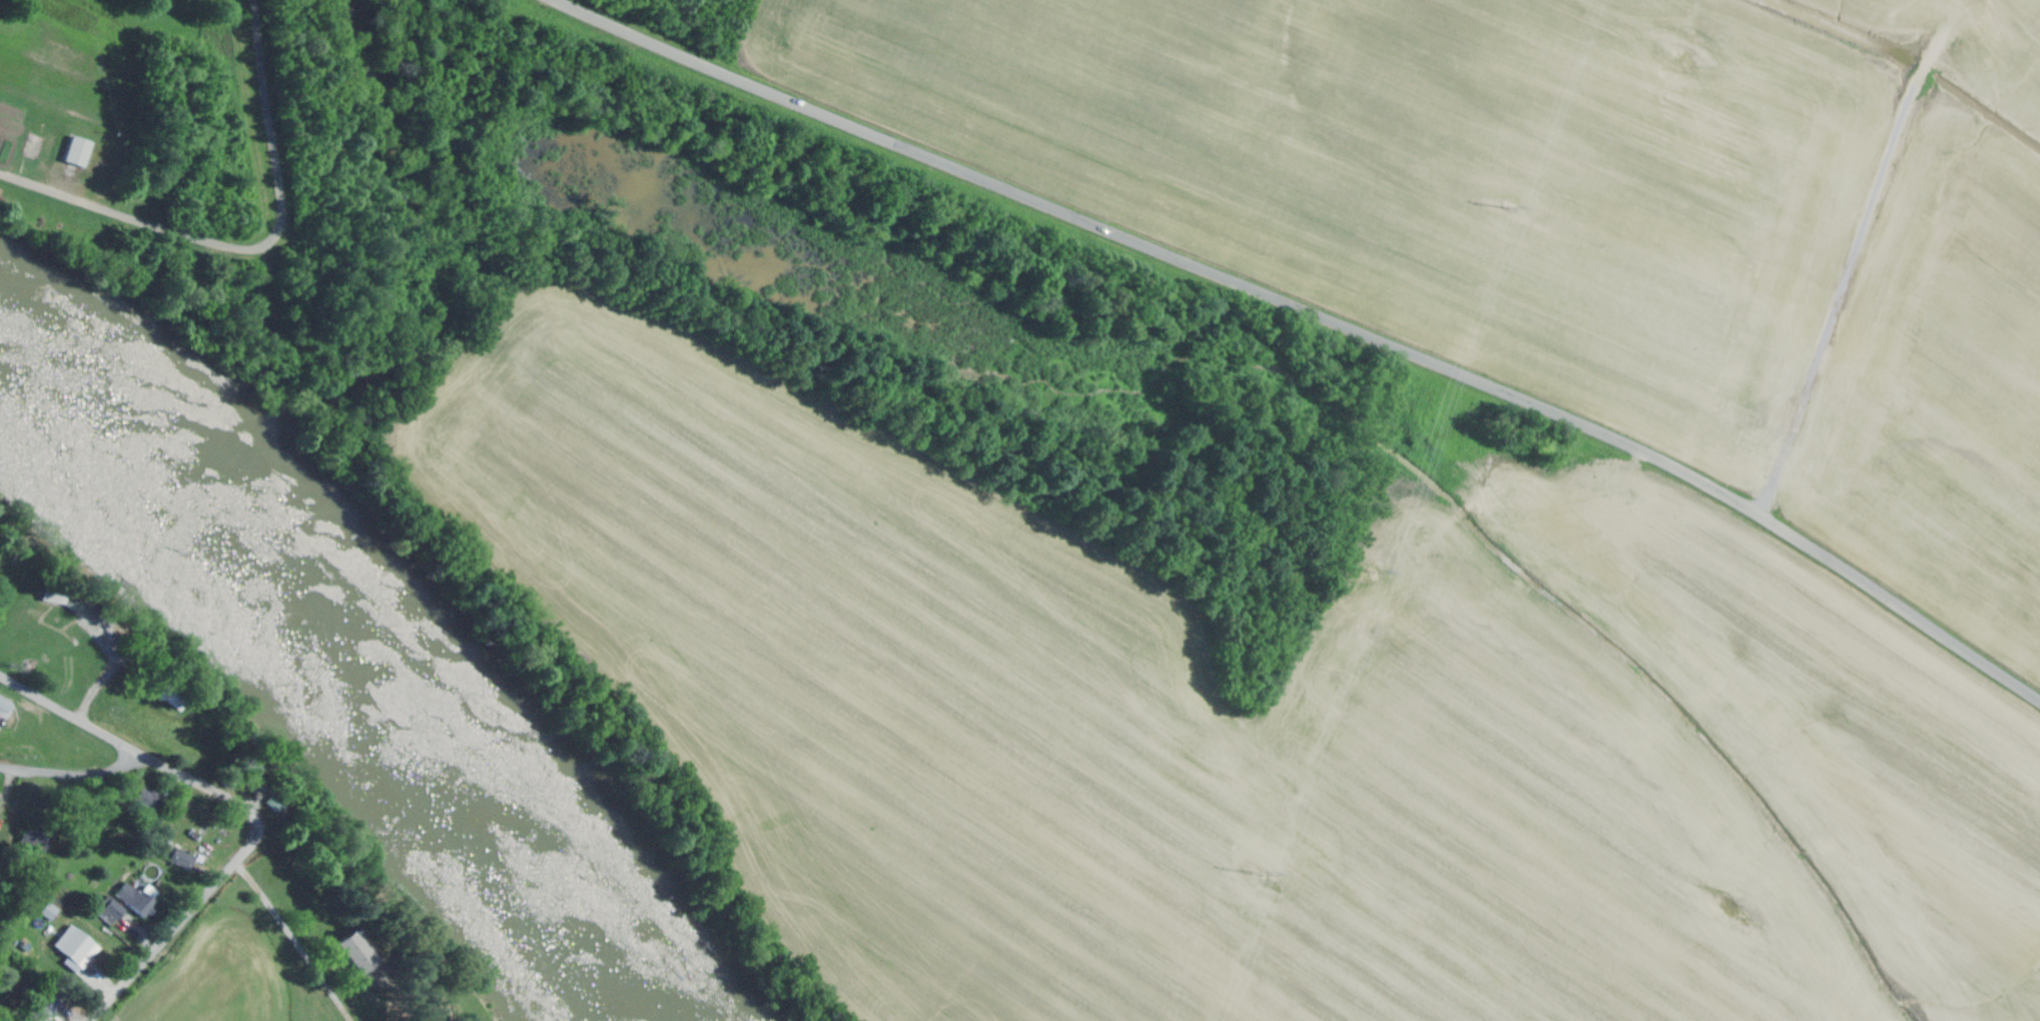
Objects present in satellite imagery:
building: (81, 151)
road: (251, 246)
road: (1313, 316)
building: (78, 607)
river: (340, 670)
building: (6, 704)
road: (72, 776)
building: (257, 779)
building: (1, 795)
road: (246, 808)
building: (186, 859)
building: (53, 911)
building: (114, 911)
building: (80, 946)
building: (360, 949)
building: (52, 1008)

